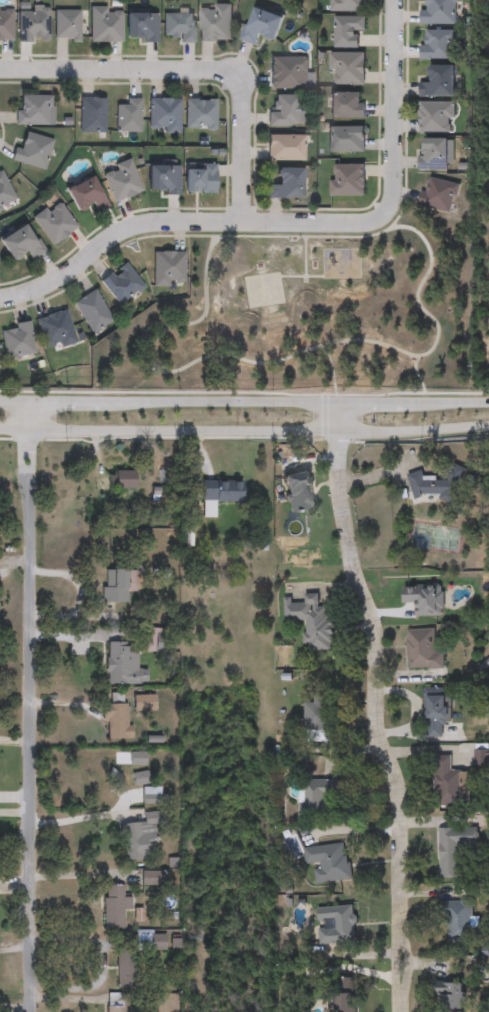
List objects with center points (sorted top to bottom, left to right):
building: (347, 5)
building: (438, 11)
building: (214, 21)
building: (6, 22)
building: (33, 23)
building: (66, 24)
building: (104, 24)
building: (260, 24)
building: (141, 25)
building: (178, 25)
building: (346, 30)
building: (437, 43)
building: (347, 67)
building: (286, 71)
road: (192, 74)
building: (438, 81)
building: (346, 103)
building: (35, 109)
building: (285, 110)
building: (200, 113)
building: (92, 114)
building: (164, 114)
building: (435, 114)
building: (128, 115)
building: (346, 138)
building: (285, 146)
building: (33, 150)
building: (435, 153)
building: (199, 177)
building: (162, 178)
building: (346, 178)
building: (120, 180)
building: (285, 183)
building: (5, 191)
building: (437, 193)
building: (85, 194)
building: (53, 221)
road: (293, 222)
building: (20, 241)
building: (168, 267)
building: (121, 282)
building: (92, 310)
park: (309, 311)
building: (55, 329)
building: (17, 341)
road: (15, 399)
road: (67, 400)
road: (219, 400)
road: (367, 401)
road: (444, 401)
road: (244, 430)
building: (122, 480)
building: (437, 486)
building: (221, 492)
building: (297, 492)
building: (117, 585)
building: (312, 622)
building: (423, 650)
building: (122, 664)
road: (35, 705)
road: (378, 705)
building: (436, 714)
building: (319, 715)
building: (117, 722)
building: (481, 758)
building: (450, 784)
building: (318, 795)
road: (84, 815)
building: (139, 838)
building: (454, 849)
building: (329, 863)
building: (150, 878)
building: (116, 906)
building: (459, 921)
building: (336, 925)
building: (151, 941)
building: (127, 969)
building: (344, 995)
building: (449, 998)
building: (116, 1003)

